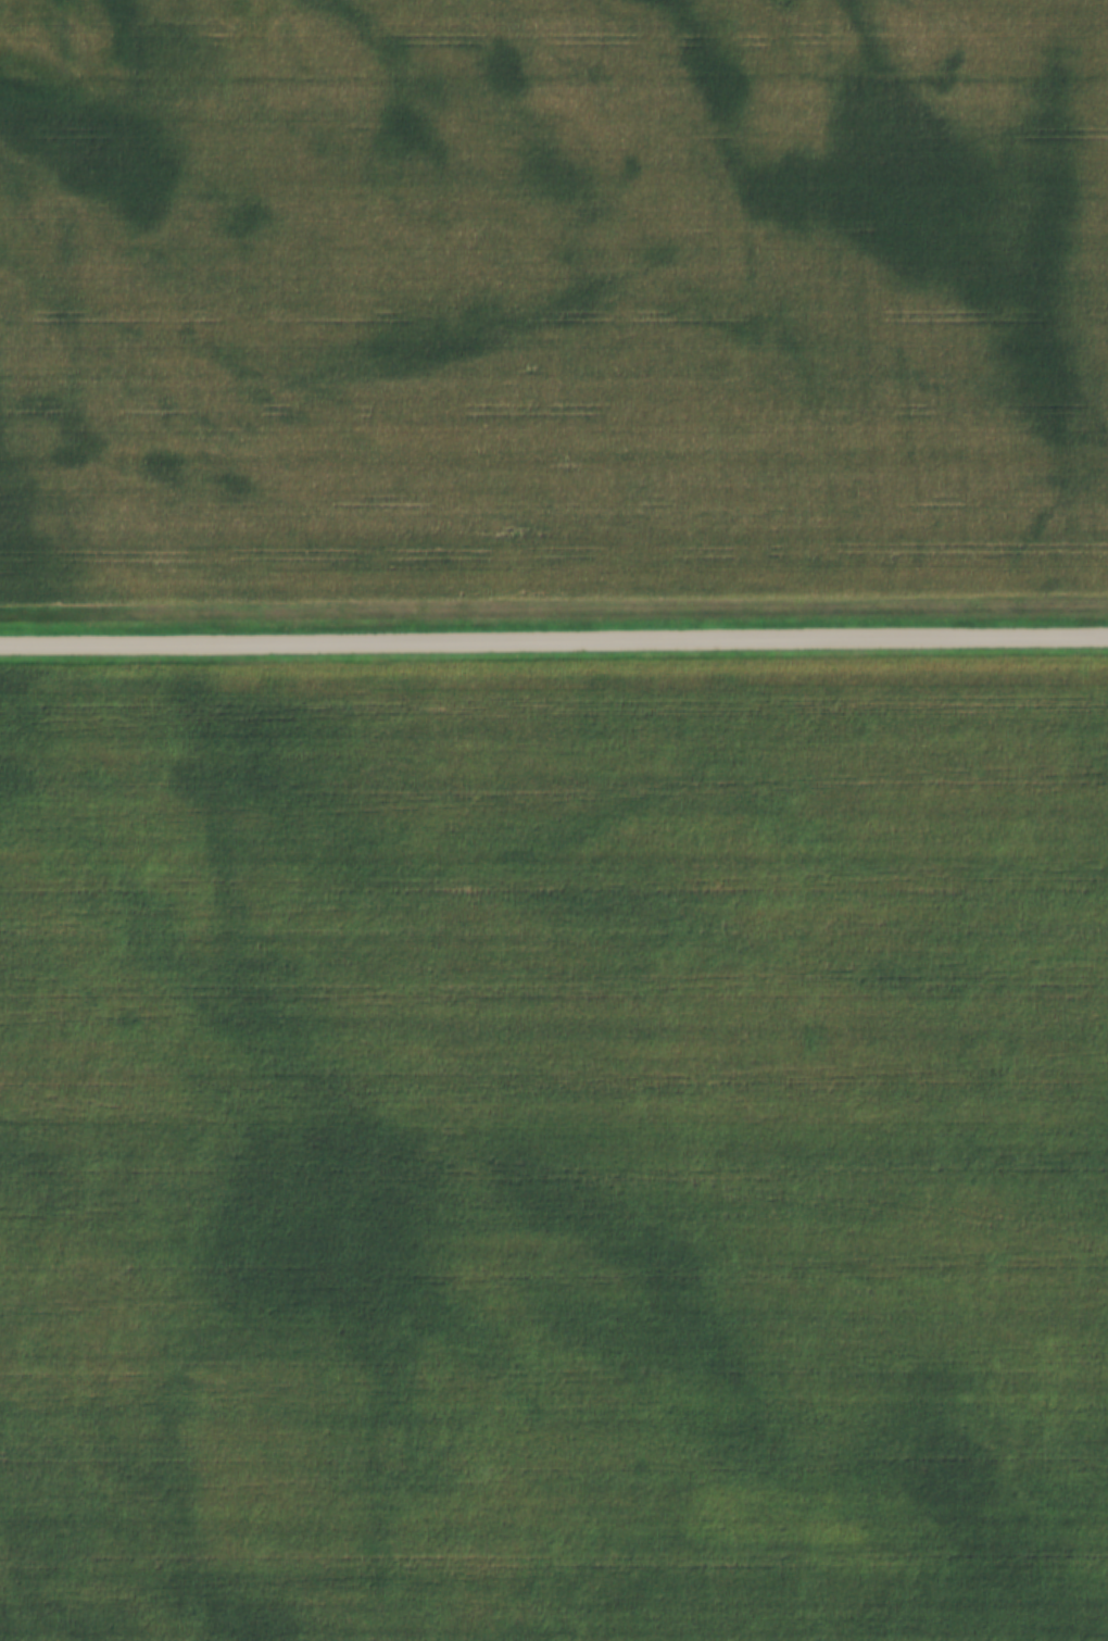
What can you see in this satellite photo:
road: (554, 644)

